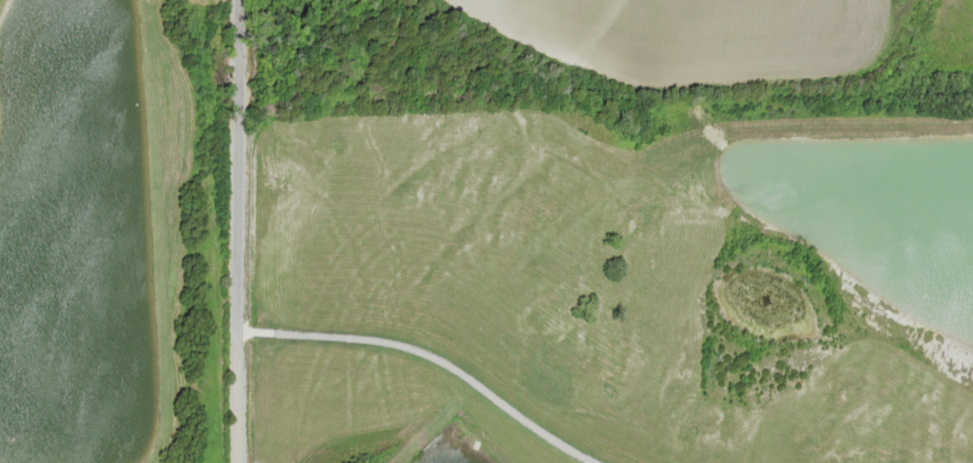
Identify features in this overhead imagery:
road: (233, 231)

